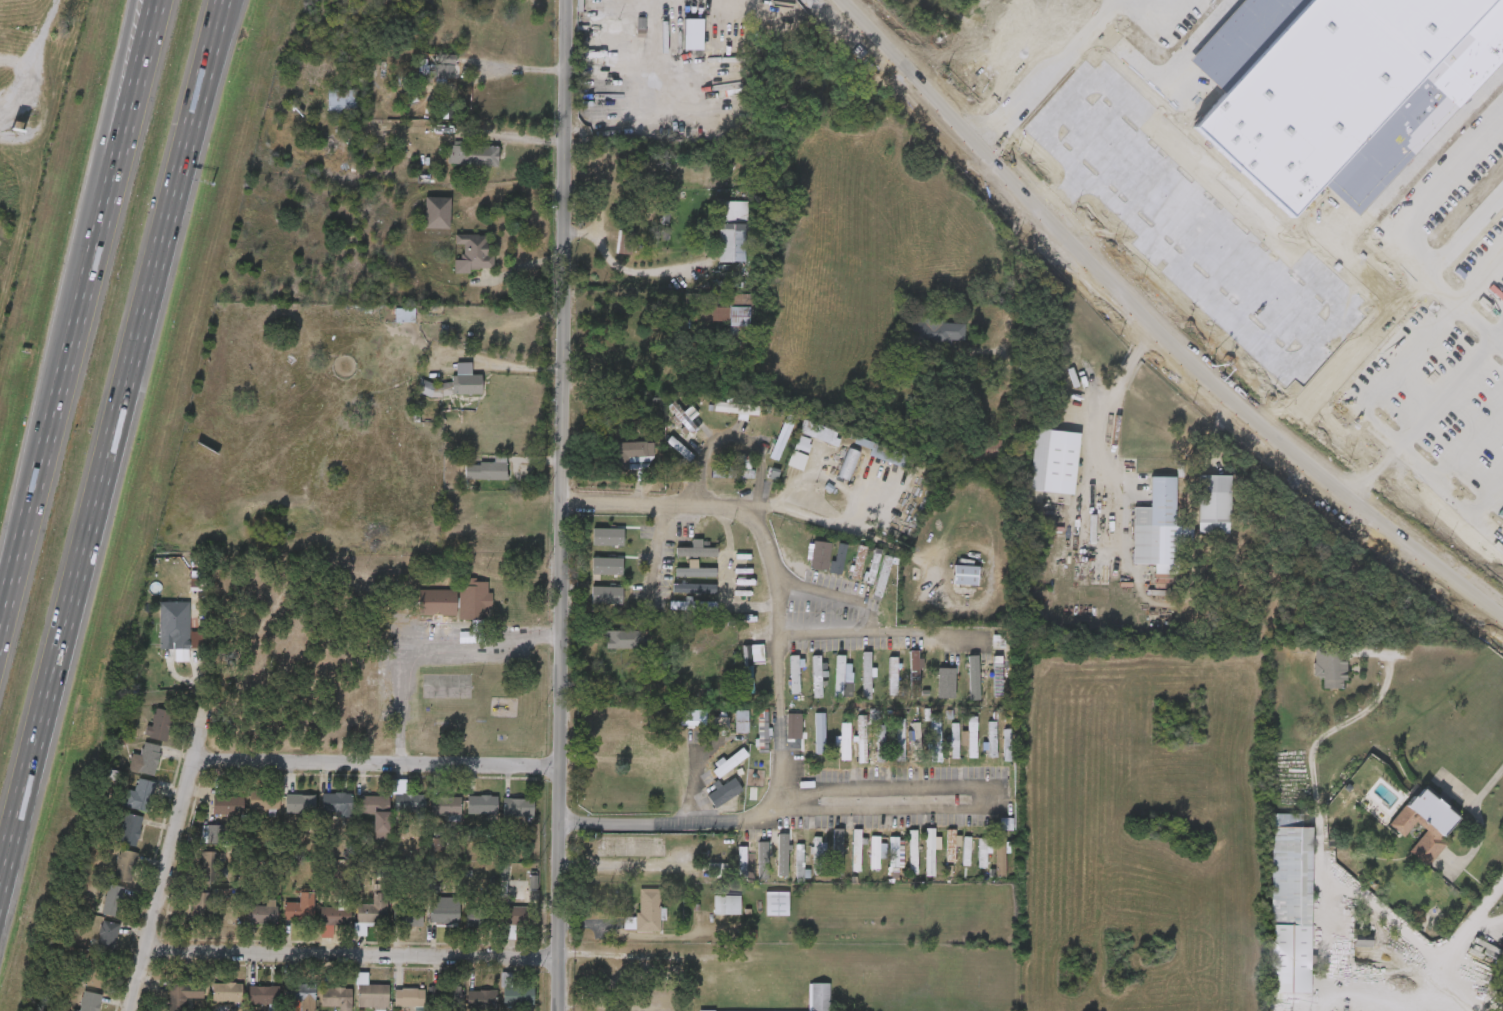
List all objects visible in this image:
building: (1284, 7)
road: (1100, 11)
road: (1143, 11)
road: (126, 30)
building: (693, 34)
building: (618, 42)
road: (34, 58)
building: (1449, 60)
road: (1161, 67)
building: (446, 69)
building: (1431, 77)
road: (1031, 82)
building: (341, 100)
road: (118, 106)
building: (1431, 123)
road: (1096, 132)
road: (104, 136)
building: (1412, 141)
building: (474, 155)
road: (1120, 156)
building: (1276, 160)
building: (1258, 177)
road: (1153, 185)
road: (1393, 187)
road: (1441, 201)
building: (1444, 205)
road: (1177, 207)
building: (437, 212)
road: (1333, 217)
building: (732, 231)
road: (1465, 232)
road: (1209, 236)
building: (625, 243)
road: (1286, 250)
building: (473, 253)
road: (1234, 260)
road: (1010, 269)
road: (628, 271)
road: (1265, 287)
road: (1414, 287)
road: (1464, 308)
road: (1292, 312)
building: (405, 314)
building: (738, 321)
road: (1154, 324)
building: (936, 331)
building: (613, 350)
road: (509, 365)
road: (1339, 366)
building: (469, 383)
road: (1451, 388)
road: (1364, 397)
building: (735, 407)
road: (45, 410)
building: (684, 417)
road: (1214, 434)
road: (734, 435)
building: (814, 435)
road: (1106, 439)
road: (1469, 443)
road: (112, 445)
building: (989, 448)
building: (631, 451)
building: (889, 454)
building: (797, 460)
building: (1053, 461)
building: (849, 463)
building: (488, 469)
building: (734, 470)
building: (1037, 476)
road: (1489, 497)
road: (657, 504)
road: (559, 505)
road: (818, 514)
building: (1197, 519)
building: (1159, 530)
building: (608, 537)
road: (658, 547)
building: (1142, 547)
building: (696, 550)
building: (821, 556)
building: (838, 560)
building: (858, 562)
building: (607, 566)
building: (872, 567)
building: (695, 570)
building: (884, 574)
building: (965, 575)
road: (731, 578)
building: (693, 588)
road: (848, 591)
building: (607, 595)
building: (473, 600)
building: (436, 603)
building: (692, 604)
building: (174, 625)
building: (694, 633)
road: (864, 634)
building: (621, 639)
road: (433, 655)
road: (782, 659)
building: (750, 664)
building: (914, 673)
building: (793, 675)
building: (997, 676)
building: (839, 677)
building: (865, 677)
building: (892, 677)
building: (815, 678)
building: (973, 679)
building: (1313, 682)
building: (943, 693)
building: (693, 719)
building: (741, 722)
building: (160, 724)
building: (720, 724)
building: (793, 727)
building: (762, 732)
building: (817, 735)
building: (971, 737)
building: (935, 739)
building: (900, 740)
building: (991, 740)
building: (861, 741)
building: (955, 741)
building: (915, 742)
building: (844, 744)
building: (880, 744)
building: (1007, 746)
building: (149, 759)
road: (1313, 759)
road: (378, 762)
building: (729, 763)
road: (1488, 785)
road: (881, 786)
building: (725, 793)
building: (141, 795)
building: (263, 800)
building: (337, 802)
building: (227, 803)
building: (300, 803)
building: (410, 804)
building: (482, 805)
building: (445, 806)
building: (519, 808)
building: (375, 812)
building: (1425, 822)
road: (672, 824)
building: (130, 830)
building: (213, 834)
building: (1407, 839)
building: (856, 851)
building: (966, 851)
building: (892, 852)
building: (912, 852)
building: (874, 853)
building: (929, 853)
building: (950, 853)
building: (982, 854)
building: (817, 855)
building: (837, 855)
building: (999, 856)
building: (772, 860)
building: (741, 863)
building: (799, 863)
building: (125, 866)
road: (166, 866)
building: (211, 866)
building: (718, 869)
building: (114, 900)
building: (777, 904)
building: (201, 905)
building: (727, 905)
building: (646, 908)
building: (1290, 909)
building: (297, 911)
building: (262, 914)
building: (371, 914)
building: (444, 914)
building: (333, 916)
building: (408, 916)
building: (514, 919)
building: (477, 921)
road: (1324, 921)
road: (1468, 922)
road: (1483, 922)
building: (107, 936)
road: (352, 953)
building: (1345, 955)
building: (95, 972)
road: (1412, 985)
building: (226, 992)
building: (300, 993)
building: (370, 993)
building: (516, 993)
building: (185, 994)
building: (446, 995)
building: (263, 996)
building: (819, 996)
road: (1323, 996)
building: (339, 998)
building: (409, 998)
building: (481, 1000)
building: (90, 1002)

